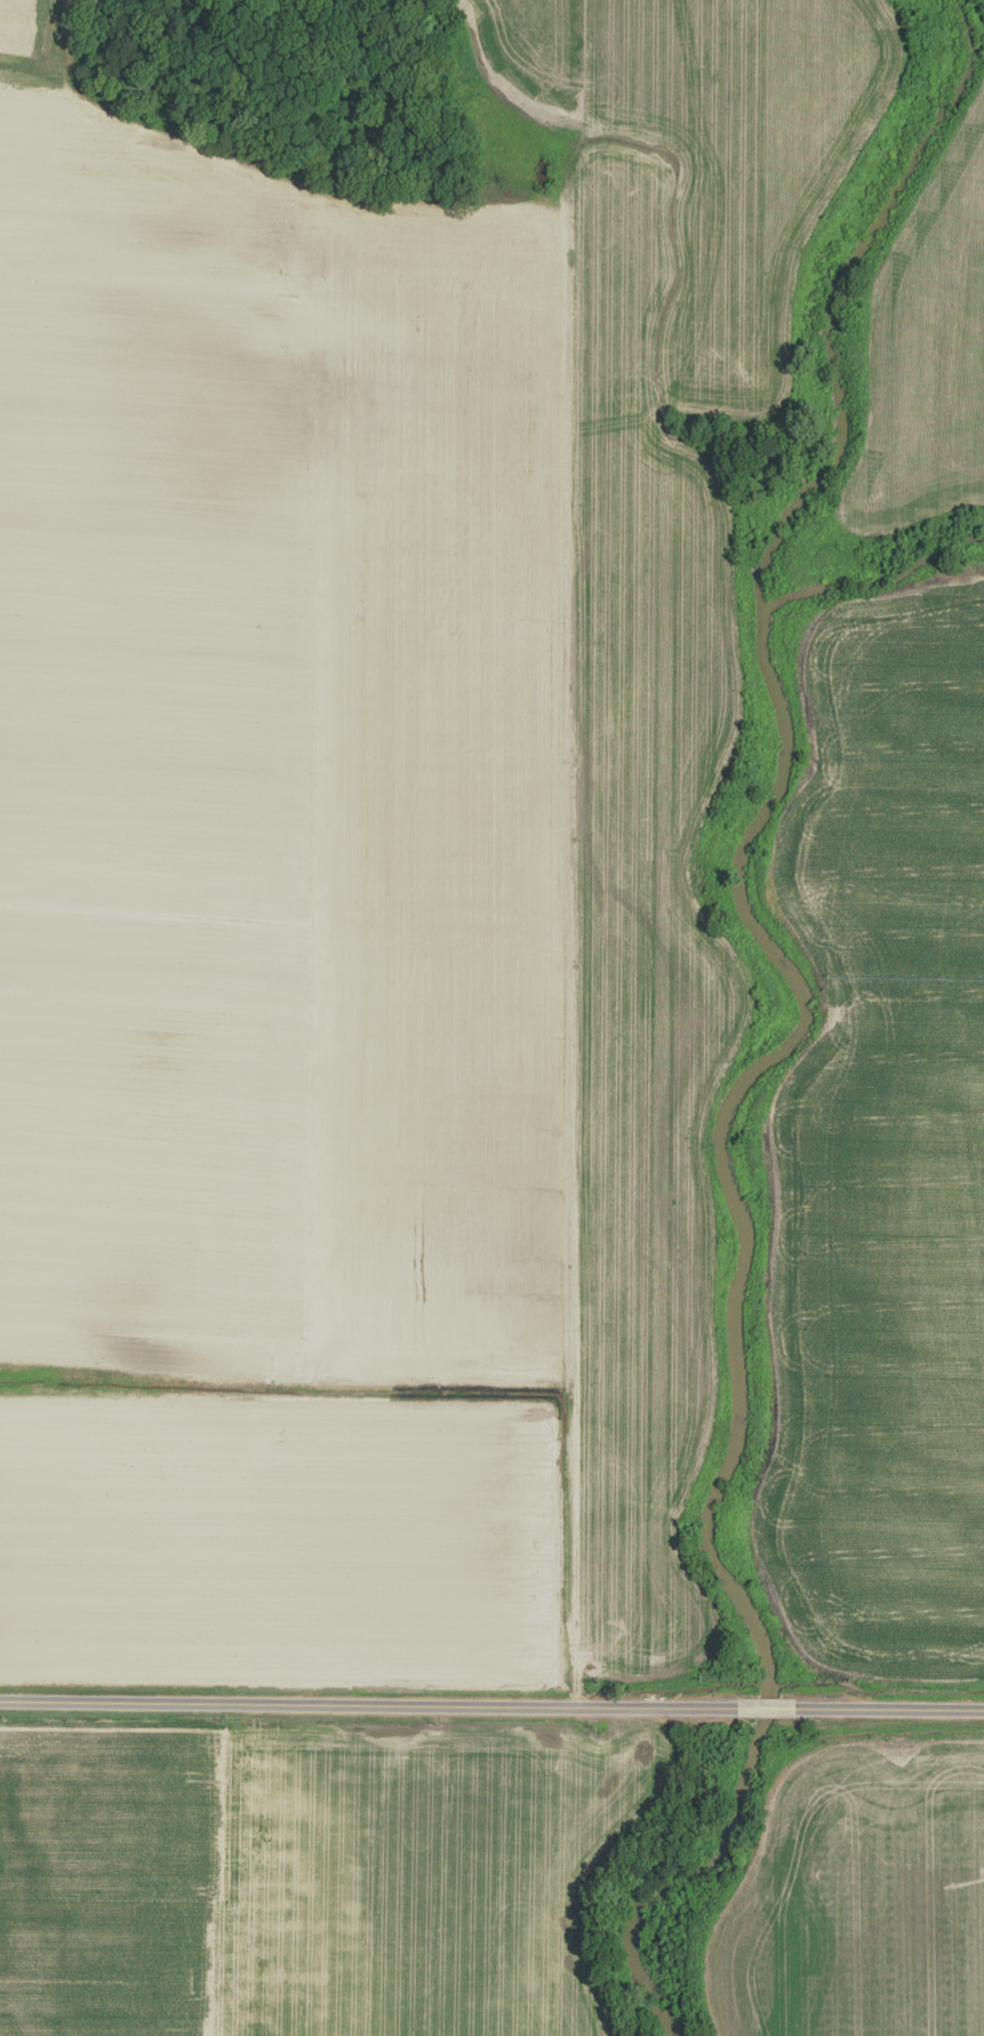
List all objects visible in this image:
road: (491, 1708)

